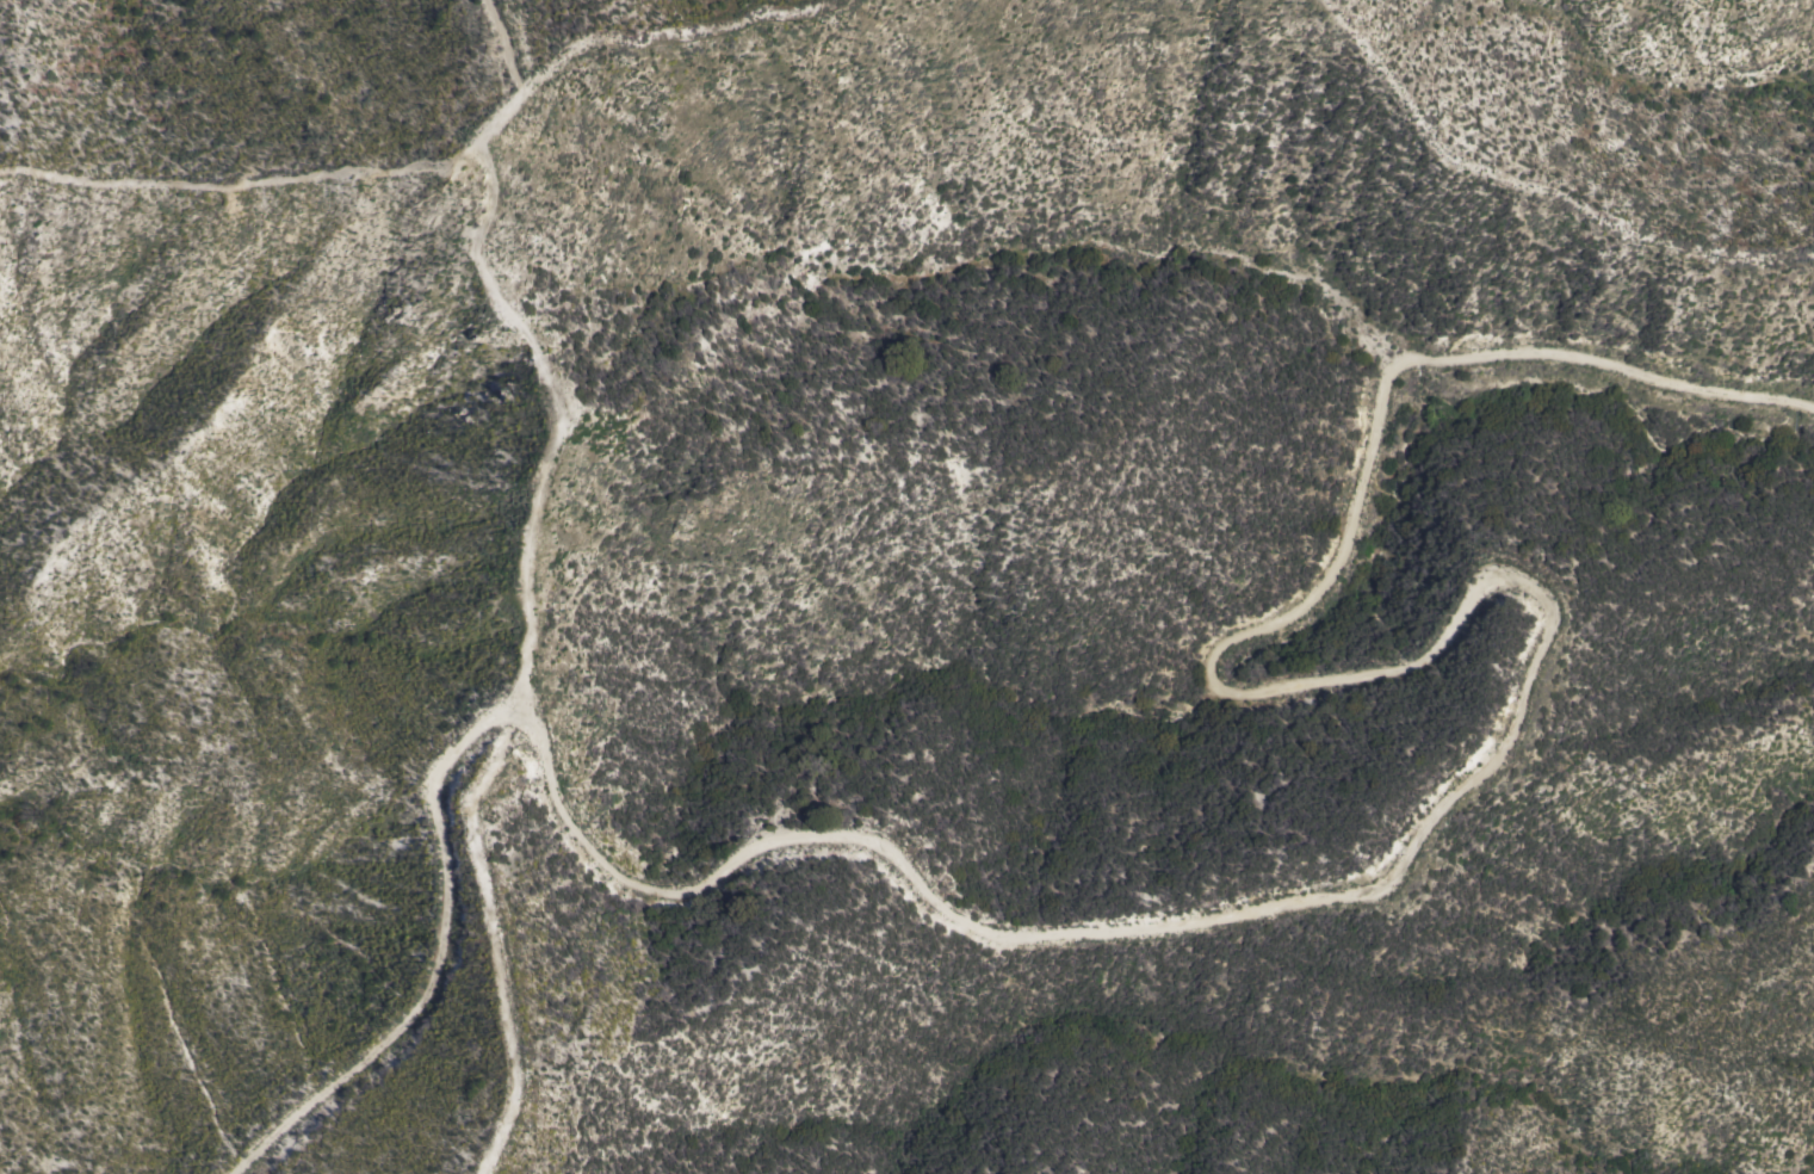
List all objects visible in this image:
road: (1373, 889)

